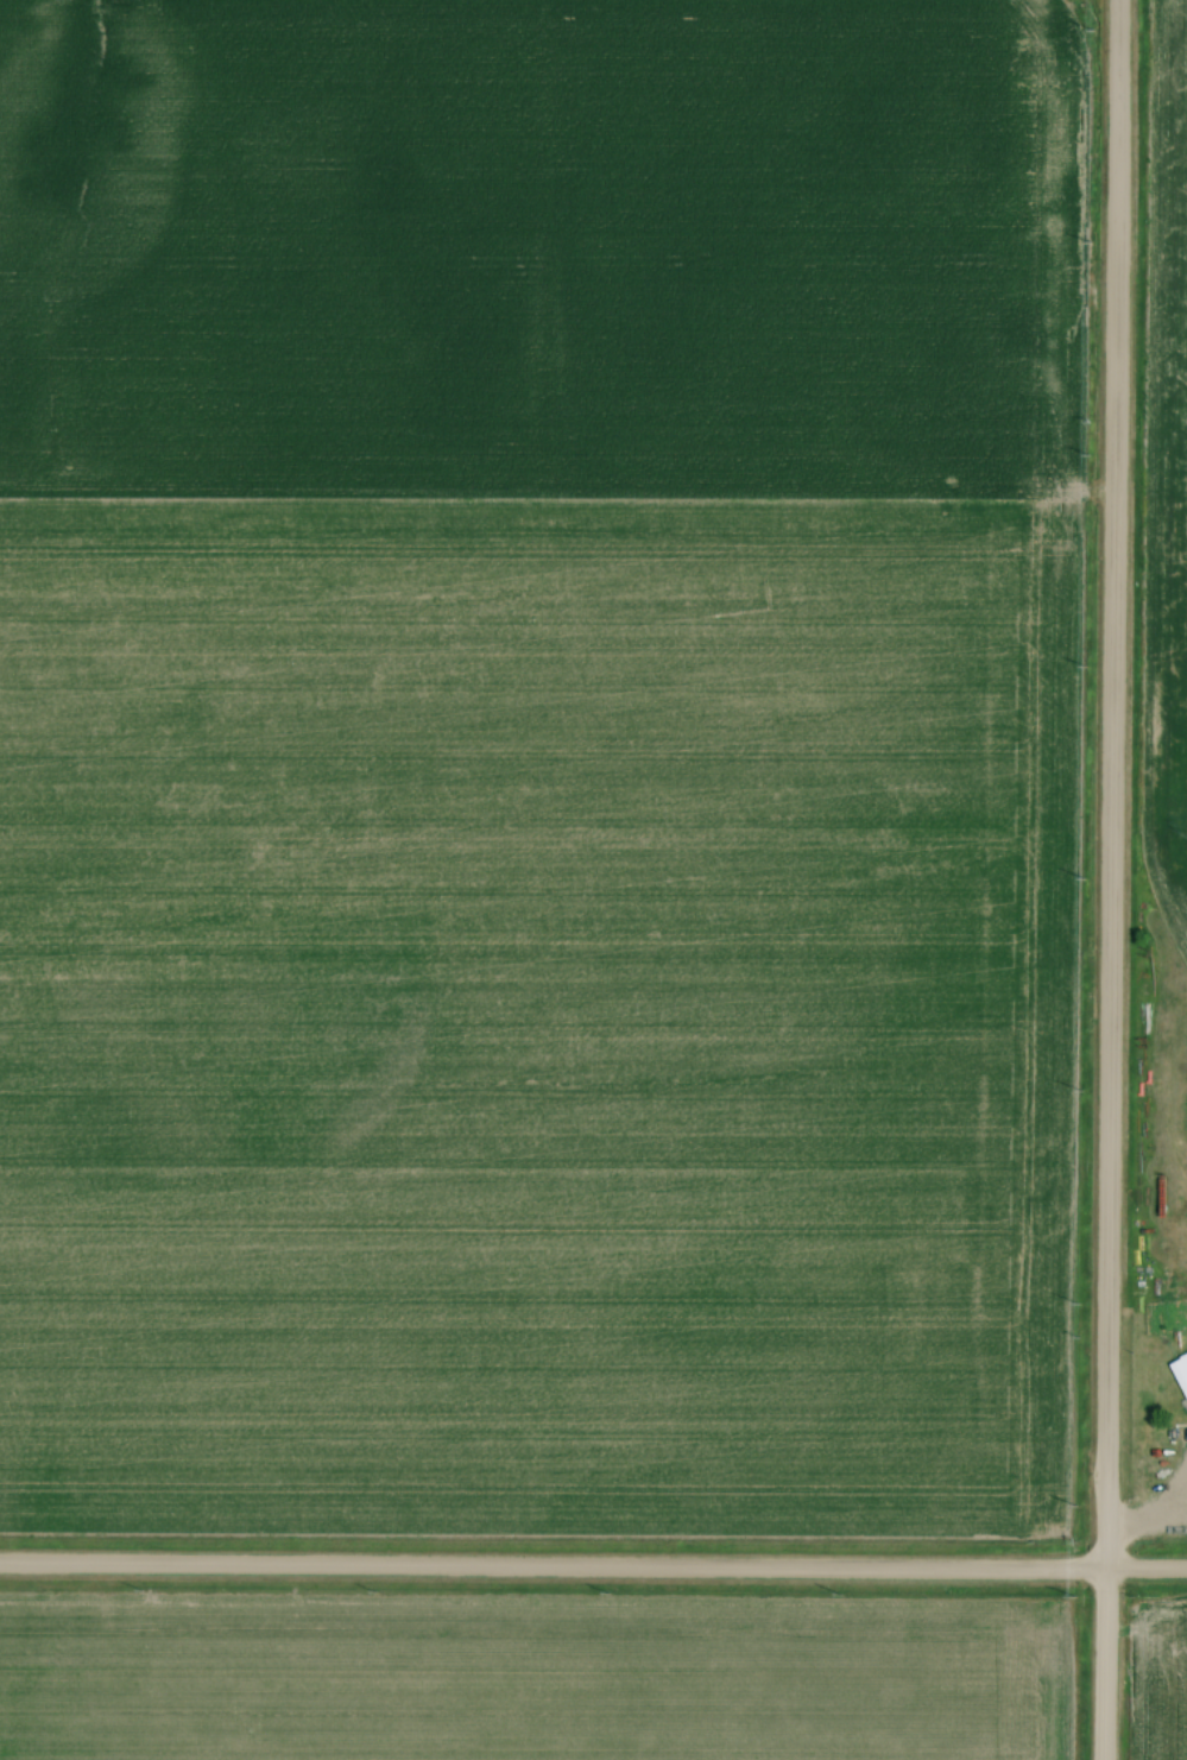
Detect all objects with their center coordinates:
road: (1112, 879)
building: (1180, 1375)
road: (1150, 1531)
road: (593, 1572)

